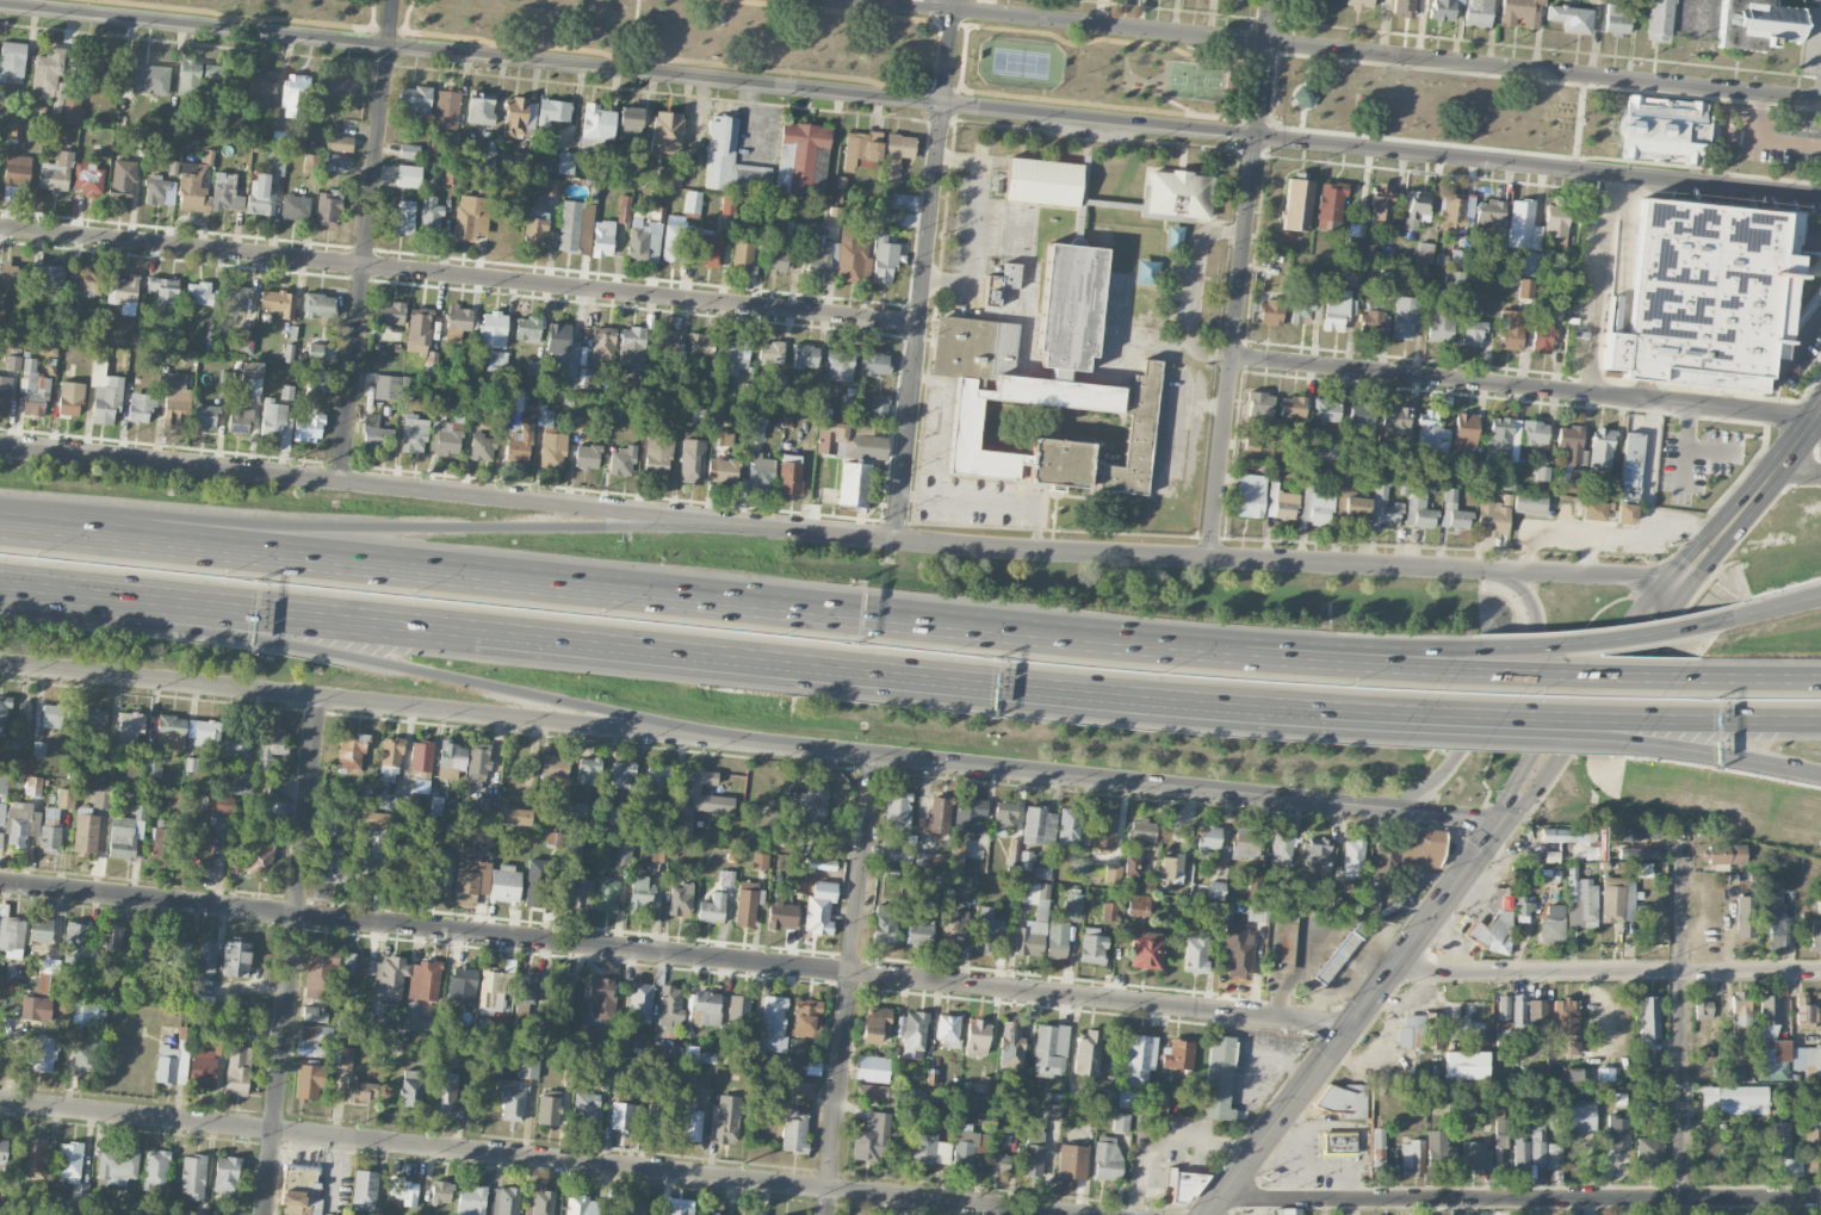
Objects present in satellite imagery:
building: (1602, 0)
building: (1359, 4)
building: (1404, 8)
building: (1444, 8)
building: (1520, 12)
building: (1478, 13)
building: (1571, 18)
building: (1616, 19)
building: (1660, 19)
building: (1757, 24)
road: (1346, 50)
building: (12, 60)
park: (989, 62)
park: (1020, 63)
building: (94, 73)
building: (48, 74)
building: (196, 75)
building: (150, 79)
park: (1195, 81)
building: (262, 87)
building: (340, 88)
building: (318, 93)
building: (295, 95)
building: (1305, 95)
building: (415, 99)
road: (910, 100)
building: (481, 107)
building: (446, 110)
building: (72, 111)
building: (552, 111)
building: (519, 116)
building: (596, 122)
building: (630, 123)
building: (1661, 129)
building: (16, 130)
building: (665, 130)
road: (1767, 140)
building: (339, 142)
building: (861, 150)
building: (409, 151)
building: (896, 155)
building: (485, 157)
building: (801, 159)
building: (729, 160)
building: (277, 161)
building: (311, 162)
building: (565, 162)
building: (17, 171)
building: (56, 173)
building: (408, 176)
building: (88, 179)
building: (122, 179)
building: (1043, 181)
building: (192, 187)
building: (551, 187)
building: (156, 188)
building: (225, 192)
building: (1176, 194)
building: (261, 196)
building: (897, 202)
building: (1381, 202)
building: (693, 204)
building: (1297, 204)
building: (727, 205)
building: (295, 206)
building: (327, 207)
building: (1416, 207)
building: (1453, 211)
building: (1489, 212)
building: (429, 215)
building: (832, 216)
building: (402, 217)
building: (471, 217)
road: (973, 223)
building: (1556, 223)
building: (570, 225)
building: (1522, 225)
building: (538, 230)
building: (645, 236)
building: (745, 236)
building: (602, 238)
building: (674, 240)
road: (367, 241)
road: (1811, 241)
building: (1355, 246)
building: (708, 248)
building: (1425, 253)
building: (836, 254)
building: (1497, 255)
building: (742, 256)
building: (882, 258)
building: (779, 259)
building: (1528, 264)
road: (925, 269)
road: (459, 275)
building: (10, 277)
building: (51, 278)
road: (1240, 279)
building: (86, 283)
building: (1001, 283)
building: (1386, 283)
road: (1600, 284)
building: (1525, 287)
building: (122, 289)
building: (163, 290)
building: (198, 293)
building: (1705, 295)
building: (1560, 299)
building: (236, 300)
building: (278, 302)
building: (318, 305)
building: (1301, 310)
building: (1336, 310)
building: (1270, 312)
building: (391, 314)
building: (1, 316)
building: (1405, 316)
building: (457, 322)
building: (1371, 323)
building: (1441, 323)
building: (1472, 326)
building: (419, 329)
building: (493, 329)
building: (527, 329)
building: (1510, 329)
building: (210, 334)
building: (1542, 337)
building: (632, 339)
building: (242, 341)
building: (667, 342)
road: (1800, 342)
building: (602, 343)
building: (700, 345)
building: (770, 352)
building: (315, 354)
building: (735, 355)
building: (805, 355)
building: (563, 357)
building: (432, 360)
building: (13, 362)
building: (840, 365)
building: (872, 365)
building: (253, 377)
building: (587, 377)
building: (318, 382)
building: (778, 385)
building: (385, 386)
road: (1523, 386)
building: (33, 389)
building: (104, 389)
building: (5, 391)
building: (1046, 391)
building: (175, 397)
building: (70, 398)
building: (514, 398)
building: (880, 405)
building: (1258, 405)
building: (141, 407)
building: (1293, 408)
building: (440, 409)
building: (1326, 411)
building: (1362, 415)
building: (205, 416)
building: (239, 417)
building: (274, 417)
building: (545, 417)
building: (1394, 420)
building: (308, 423)
road: (943, 424)
building: (1175, 427)
building: (755, 429)
building: (376, 432)
building: (1431, 433)
building: (1535, 433)
building: (413, 434)
building: (1464, 434)
building: (445, 438)
building: (721, 438)
building: (1503, 439)
building: (846, 440)
building: (1252, 440)
building: (1571, 442)
building: (519, 444)
building: (483, 447)
building: (1602, 447)
building: (552, 450)
building: (657, 453)
building: (1367, 454)
building: (587, 457)
building: (621, 460)
building: (692, 461)
road: (1800, 465)
building: (1630, 466)
building: (1437, 469)
building: (721, 470)
building: (761, 472)
building: (789, 473)
building: (1542, 473)
building: (1345, 483)
building: (854, 484)
road: (380, 486)
building: (1169, 486)
building: (1250, 495)
road: (971, 500)
building: (1529, 502)
building: (1280, 503)
building: (1315, 506)
building: (1356, 506)
building: (1383, 507)
building: (1418, 508)
building: (1594, 510)
building: (1453, 512)
building: (1624, 513)
building: (1493, 516)
road: (1685, 522)
road: (417, 526)
road: (1036, 533)
road: (1633, 534)
road: (1587, 557)
road: (1221, 559)
road: (18, 582)
road: (658, 594)
road: (1778, 603)
road: (1606, 632)
road: (617, 643)
road: (1396, 656)
road: (386, 664)
road: (1389, 665)
road: (1571, 674)
road: (1749, 677)
road: (368, 701)
road: (1497, 702)
road: (1313, 705)
road: (1308, 709)
road: (1540, 713)
building: (51, 715)
road: (1736, 715)
building: (4, 717)
building: (94, 718)
building: (130, 725)
building: (204, 730)
building: (171, 731)
road: (1520, 731)
building: (236, 743)
building: (271, 745)
building: (38, 748)
building: (352, 751)
building: (390, 755)
road: (1722, 755)
building: (421, 757)
building: (452, 758)
building: (478, 762)
building: (153, 764)
building: (555, 767)
building: (588, 770)
building: (621, 774)
building: (658, 776)
building: (385, 777)
road: (1121, 781)
building: (4, 782)
building: (33, 786)
building: (242, 788)
building: (690, 789)
building: (100, 795)
building: (66, 798)
building: (388, 801)
building: (218, 804)
building: (410, 804)
building: (435, 805)
building: (812, 808)
building: (577, 810)
building: (268, 811)
building: (897, 811)
building: (51, 812)
road: (1512, 812)
building: (2, 813)
building: (514, 816)
building: (970, 816)
building: (936, 818)
building: (1003, 818)
building: (374, 819)
building: (337, 822)
building: (20, 823)
building: (682, 825)
building: (1039, 825)
building: (1069, 827)
building: (1104, 831)
building: (482, 832)
building: (1141, 832)
building: (86, 833)
building: (124, 833)
building: (1636, 833)
building: (1562, 835)
building: (1209, 836)
building: (1, 838)
building: (50, 838)
building: (1246, 842)
building: (202, 847)
building: (574, 847)
building: (1281, 848)
building: (892, 850)
building: (623, 851)
building: (955, 851)
building: (1354, 853)
building: (1637, 853)
building: (656, 854)
building: (1314, 854)
building: (1406, 854)
building: (1726, 854)
building: (259, 856)
building: (927, 860)
building: (1026, 860)
building: (760, 861)
building: (822, 863)
building: (329, 864)
building: (1131, 864)
building: (1078, 866)
building: (1170, 868)
building: (365, 869)
building: (439, 870)
building: (401, 872)
building: (1042, 873)
building: (1113, 873)
building: (470, 876)
building: (537, 882)
building: (503, 884)
building: (1216, 889)
building: (578, 892)
building: (639, 893)
building: (606, 895)
building: (1373, 895)
building: (1617, 899)
building: (680, 900)
building: (1580, 900)
building: (745, 904)
building: (1138, 904)
building: (1073, 905)
building: (819, 907)
building: (712, 909)
building: (1523, 910)
building: (1109, 911)
building: (1040, 912)
building: (1255, 913)
building: (781, 916)
building: (1746, 917)
building: (1773, 919)
building: (885, 923)
building: (1551, 924)
building: (986, 929)
building: (953, 930)
building: (41, 931)
building: (919, 931)
building: (1493, 932)
building: (11, 935)
building: (1815, 935)
building: (112, 938)
building: (1057, 938)
building: (1287, 943)
building: (76, 944)
building: (1092, 946)
building: (1145, 949)
building: (147, 950)
building: (180, 953)
road: (676, 954)
building: (1195, 954)
building: (1239, 954)
building: (1338, 954)
building: (205, 955)
road: (292, 955)
building: (236, 959)
building: (355, 965)
building: (320, 972)
road: (1609, 974)
building: (408, 979)
building: (464, 980)
building: (44, 984)
building: (10, 985)
road: (850, 985)
building: (558, 990)
building: (153, 994)
building: (524, 997)
building: (601, 997)
building: (640, 1003)
building: (670, 1006)
building: (36, 1008)
building: (706, 1008)
building: (1503, 1008)
building: (1702, 1009)
building: (1804, 1010)
building: (87, 1011)
building: (738, 1012)
building: (1741, 1012)
building: (314, 1013)
building: (1518, 1013)
building: (1767, 1015)
building: (805, 1017)
building: (1536, 1018)
building: (419, 1021)
building: (1567, 1021)
building: (1648, 1022)
building: (874, 1023)
building: (772, 1024)
road: (1683, 1027)
building: (1410, 1029)
building: (219, 1030)
building: (948, 1030)
building: (1432, 1030)
building: (911, 1034)
building: (1503, 1034)
building: (977, 1039)
building: (312, 1040)
building: (1418, 1041)
building: (795, 1044)
building: (1010, 1044)
building: (658, 1049)
building: (1051, 1049)
building: (1088, 1053)
building: (43, 1054)
building: (1177, 1054)
building: (342, 1055)
building: (699, 1056)
building: (1140, 1058)
building: (83, 1059)
building: (1771, 1060)
building: (1807, 1060)
building: (172, 1062)
building: (795, 1065)
building: (1466, 1065)
building: (204, 1066)
building: (528, 1067)
building: (879, 1070)
building: (237, 1071)
building: (1573, 1074)
building: (1219, 1078)
building: (309, 1081)
building: (986, 1084)
building: (803, 1086)
building: (411, 1089)
building: (359, 1091)
building: (872, 1091)
building: (445, 1092)
building: (1618, 1096)
building: (512, 1098)
building: (1126, 1098)
building: (1733, 1098)
building: (1344, 1099)
building: (549, 1106)
building: (584, 1110)
building: (1051, 1111)
building: (1580, 1116)
building: (624, 1117)
building: (725, 1118)
building: (690, 1121)
building: (1120, 1122)
building: (656, 1123)
building: (794, 1130)
building: (1501, 1133)
building: (1617, 1133)
building: (872, 1137)
road: (1164, 1137)
building: (1377, 1137)
building: (1780, 1140)
building: (1338, 1143)
building: (1813, 1145)
building: (964, 1147)
building: (1528, 1147)
building: (929, 1149)
building: (1033, 1149)
building: (1439, 1149)
building: (1648, 1151)
building: (2, 1153)
building: (1412, 1155)
building: (1475, 1155)
building: (1554, 1157)
building: (33, 1158)
road: (535, 1158)
building: (1107, 1158)
building: (1072, 1161)
building: (117, 1165)
building: (998, 1165)
building: (1791, 1167)
building: (156, 1168)
building: (72, 1170)
building: (192, 1177)
building: (227, 1177)
building: (1184, 1185)
building: (364, 1190)
building: (402, 1190)
building: (299, 1191)
building: (441, 1192)
road: (1523, 1199)
building: (471, 1201)
building: (504, 1201)
building: (539, 1203)
building: (581, 1204)
building: (632, 1208)
building: (677, 1209)
building: (617, 1211)
building: (1287, 1211)
building: (712, 1213)
building: (749, 1213)
building: (199, 1214)

